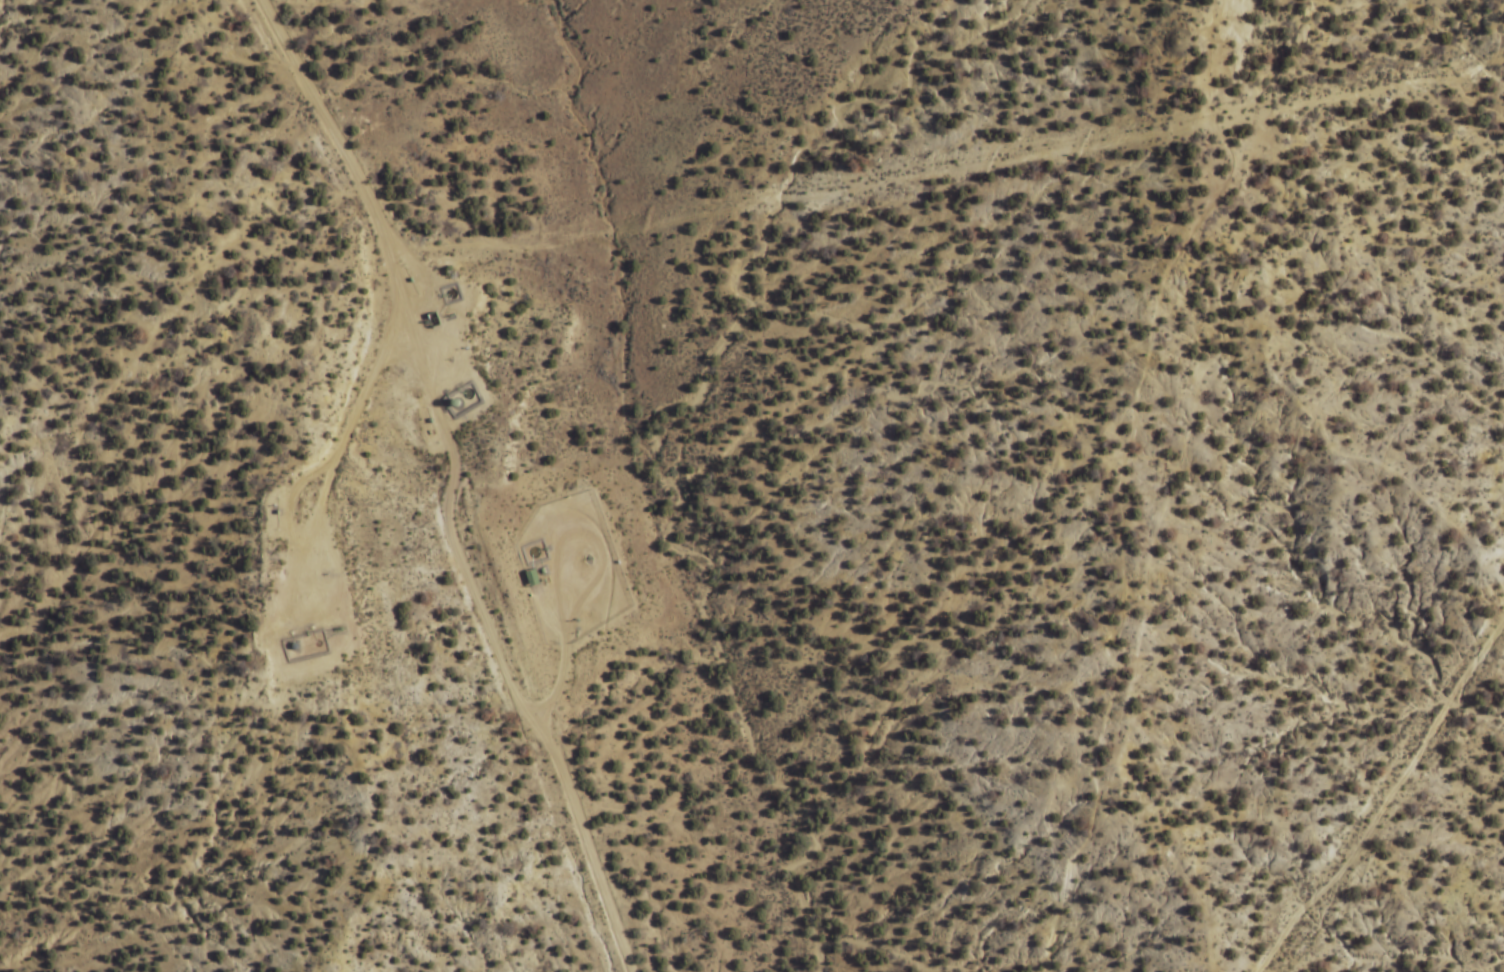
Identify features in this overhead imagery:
road: (1383, 86)
road: (1261, 154)
road: (799, 199)
road: (1120, 478)
road: (449, 485)
road: (327, 561)
road: (557, 566)
road: (1385, 798)

